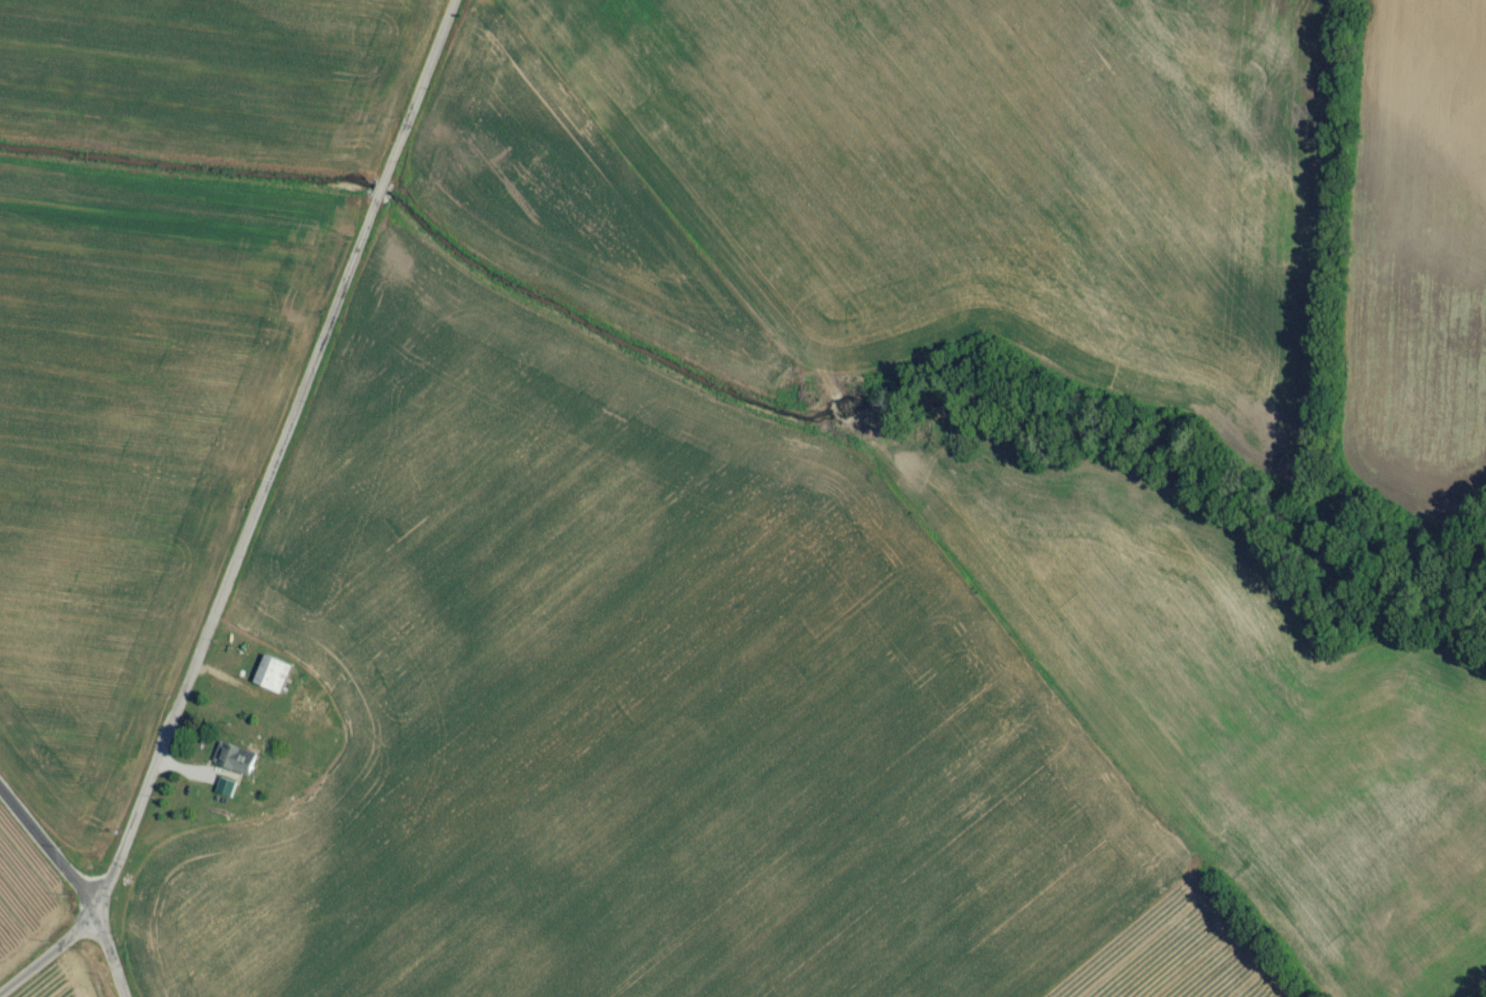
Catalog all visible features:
road: (242, 513)
building: (273, 682)
building: (237, 765)
building: (228, 795)
road: (49, 843)
road: (111, 953)

